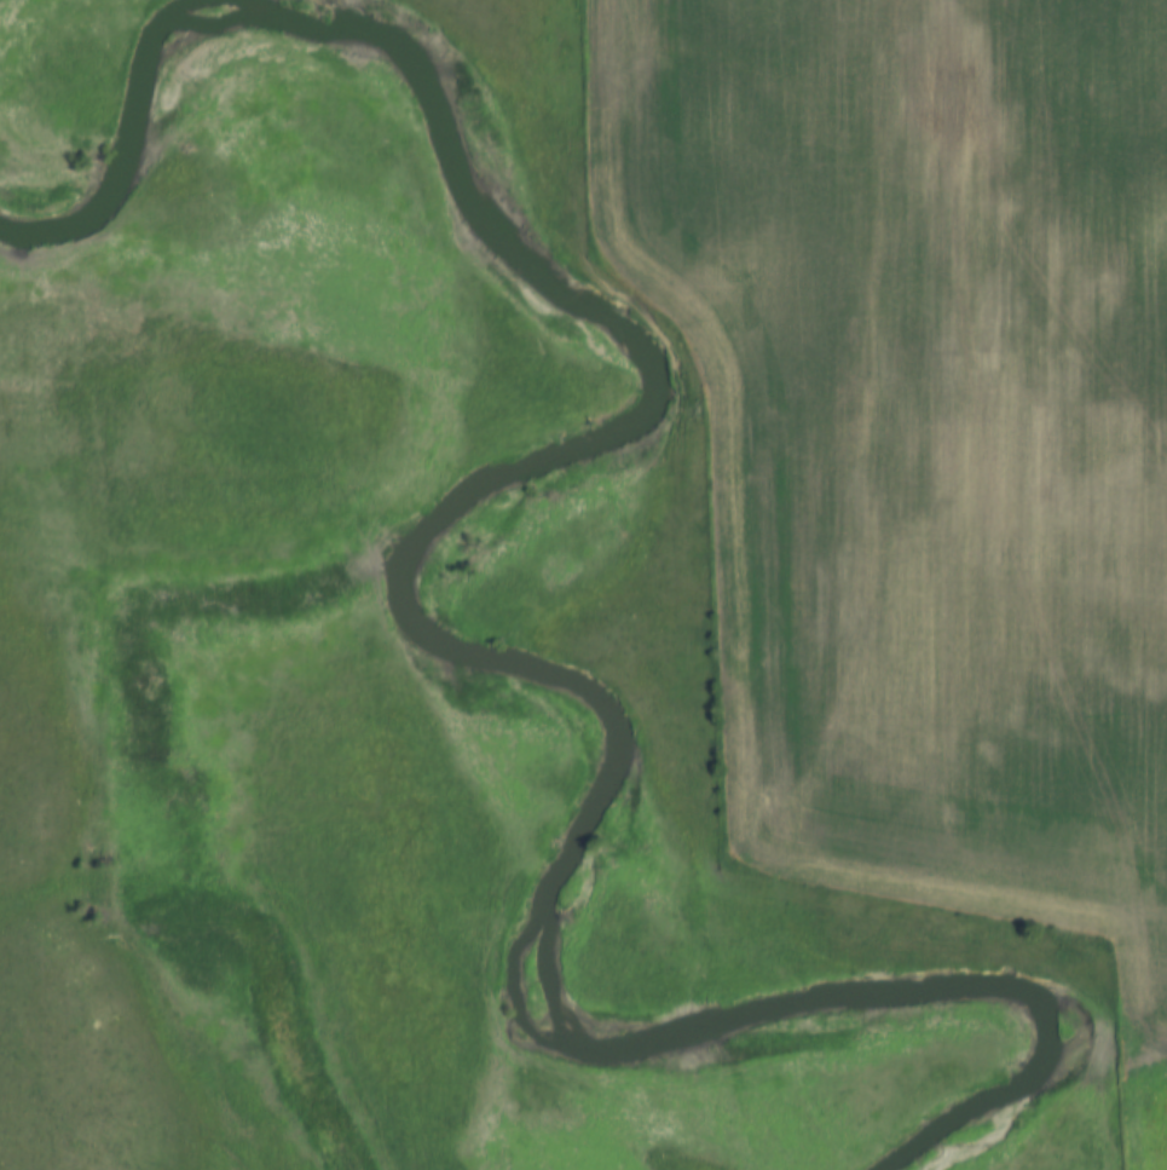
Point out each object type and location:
river: (408, 600)

